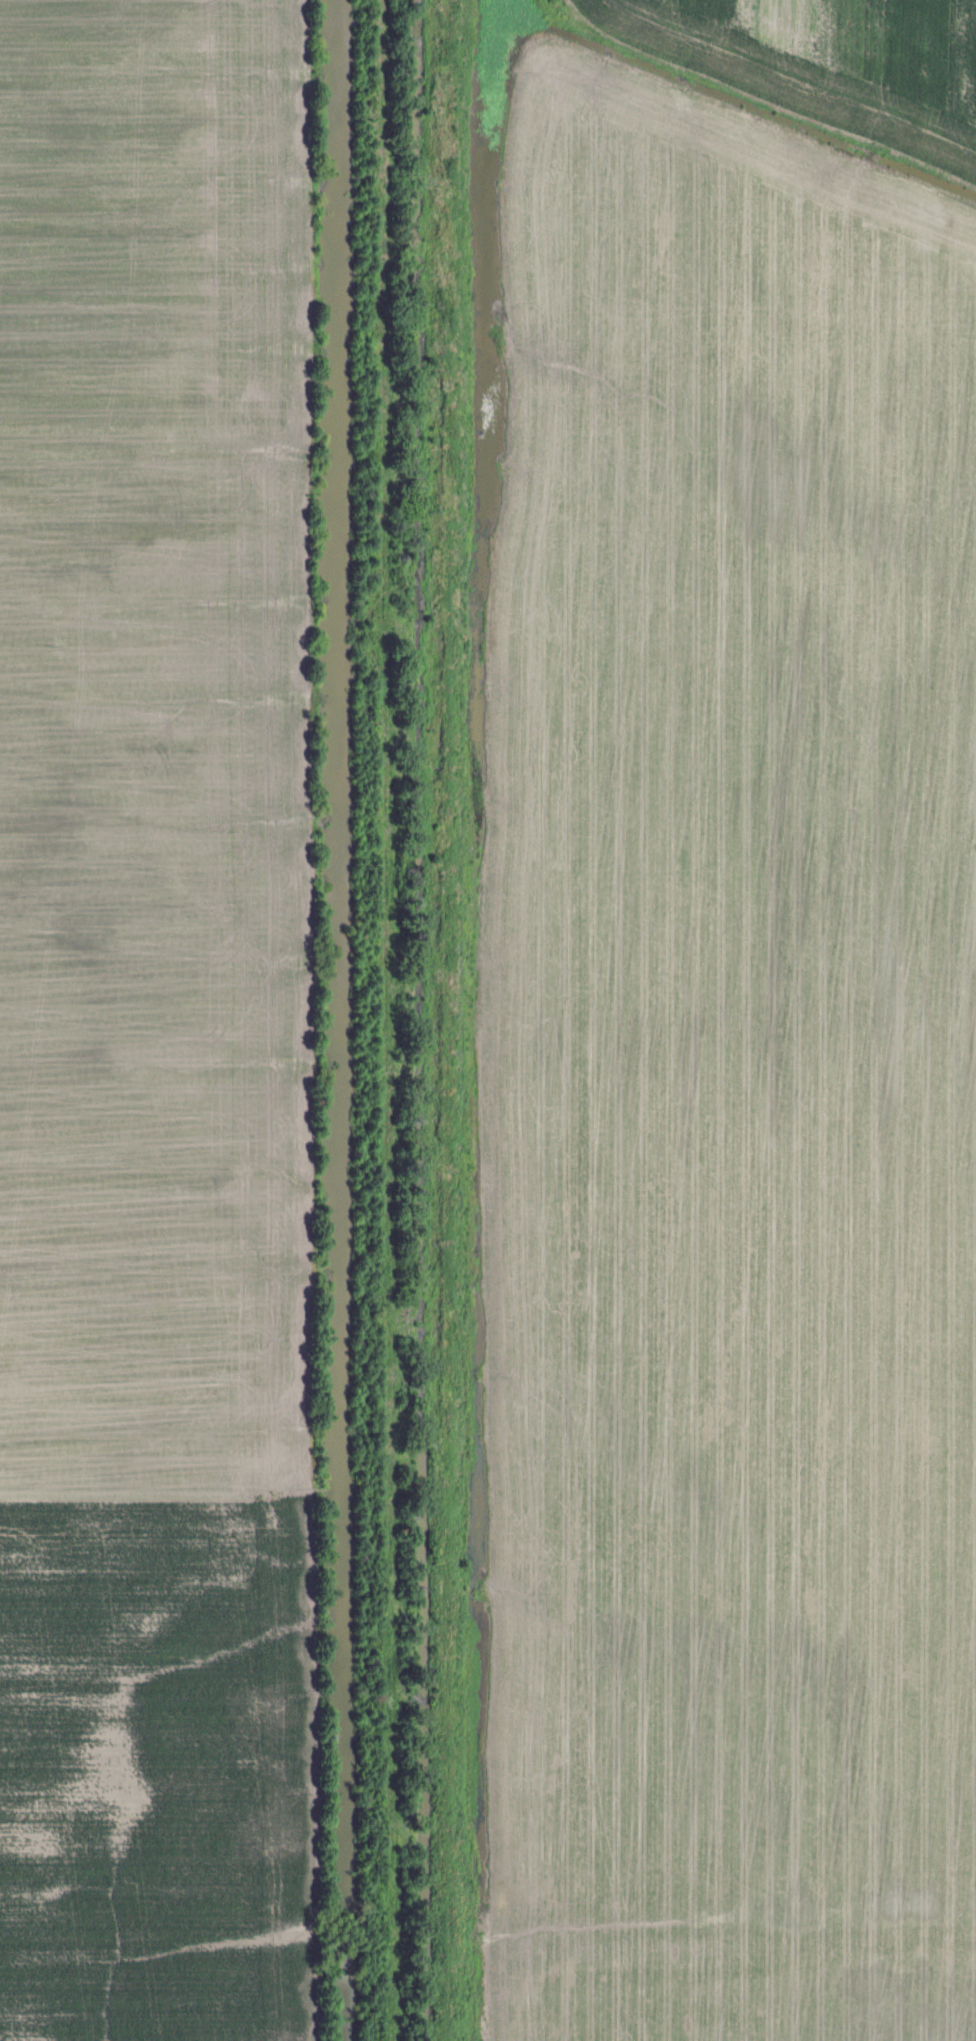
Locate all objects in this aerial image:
crop: (824, 61)
crop: (155, 1026)
crop: (729, 1085)

